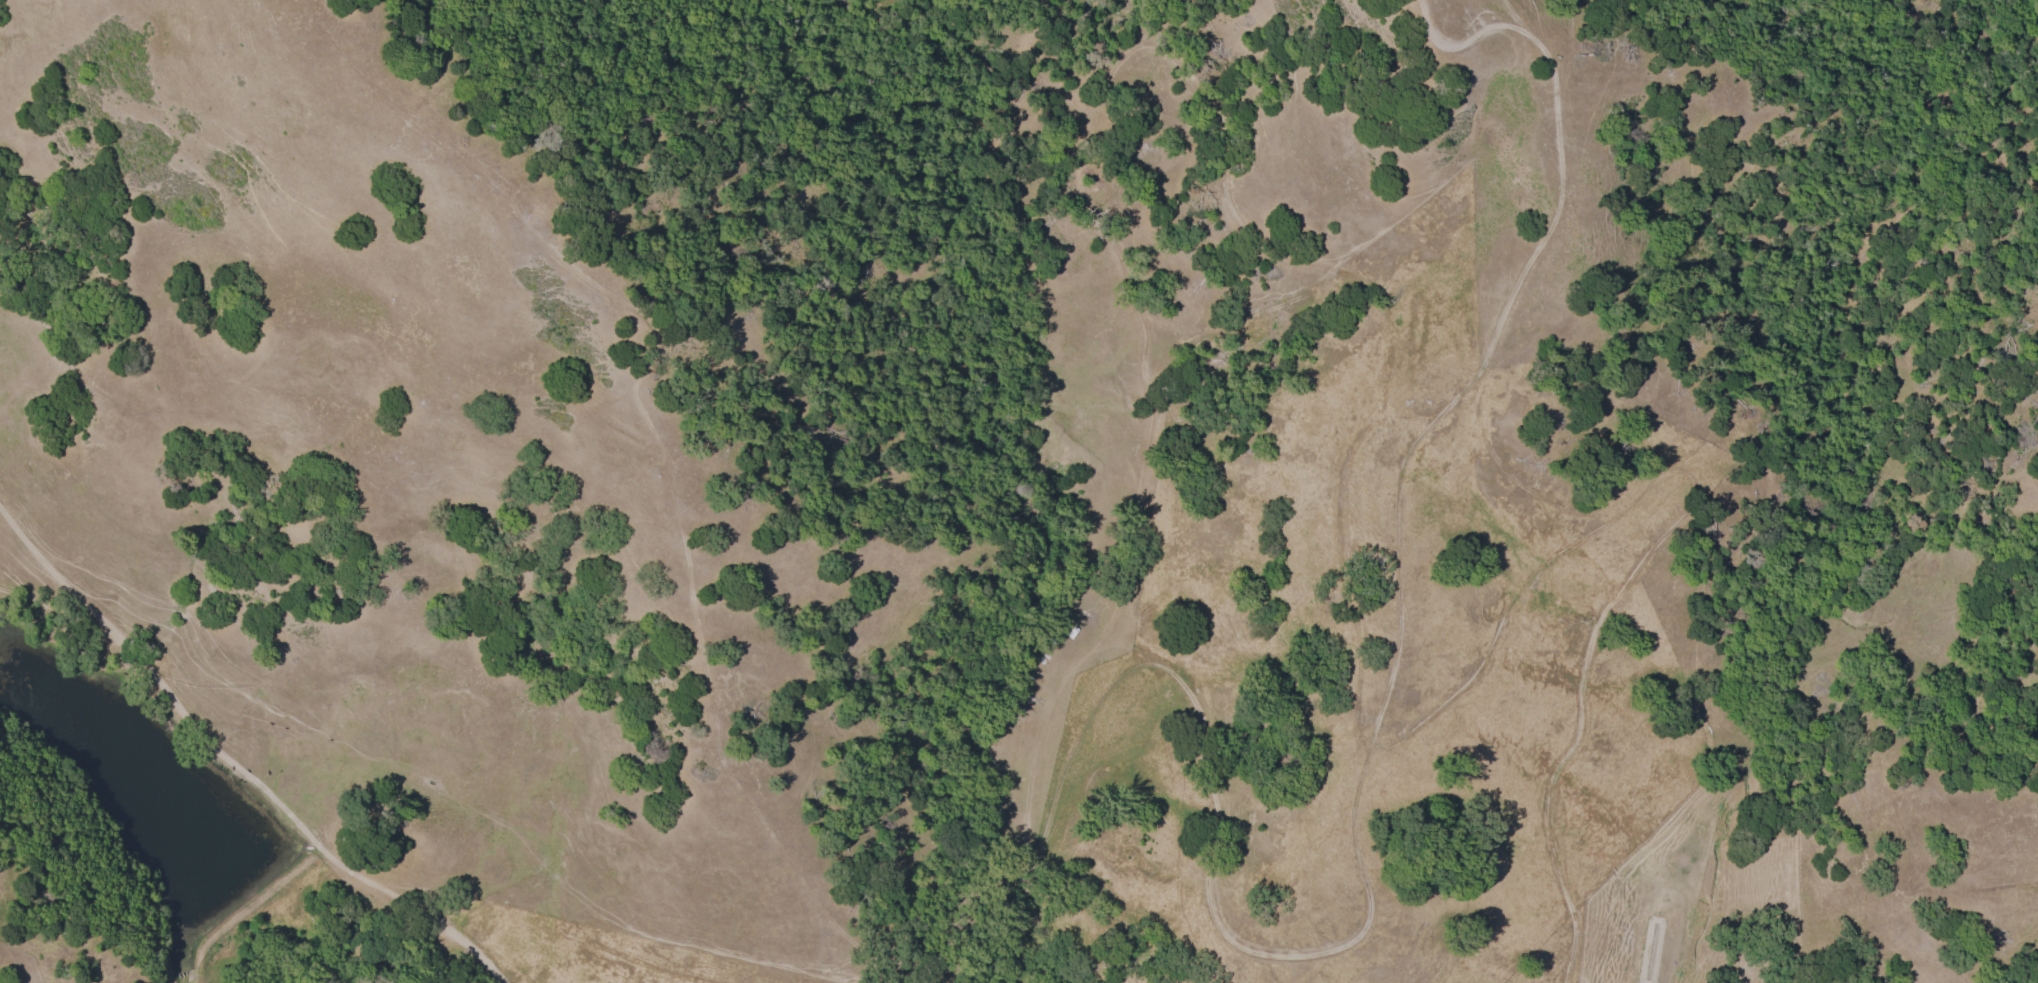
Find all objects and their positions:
crop: (1711, 874)

